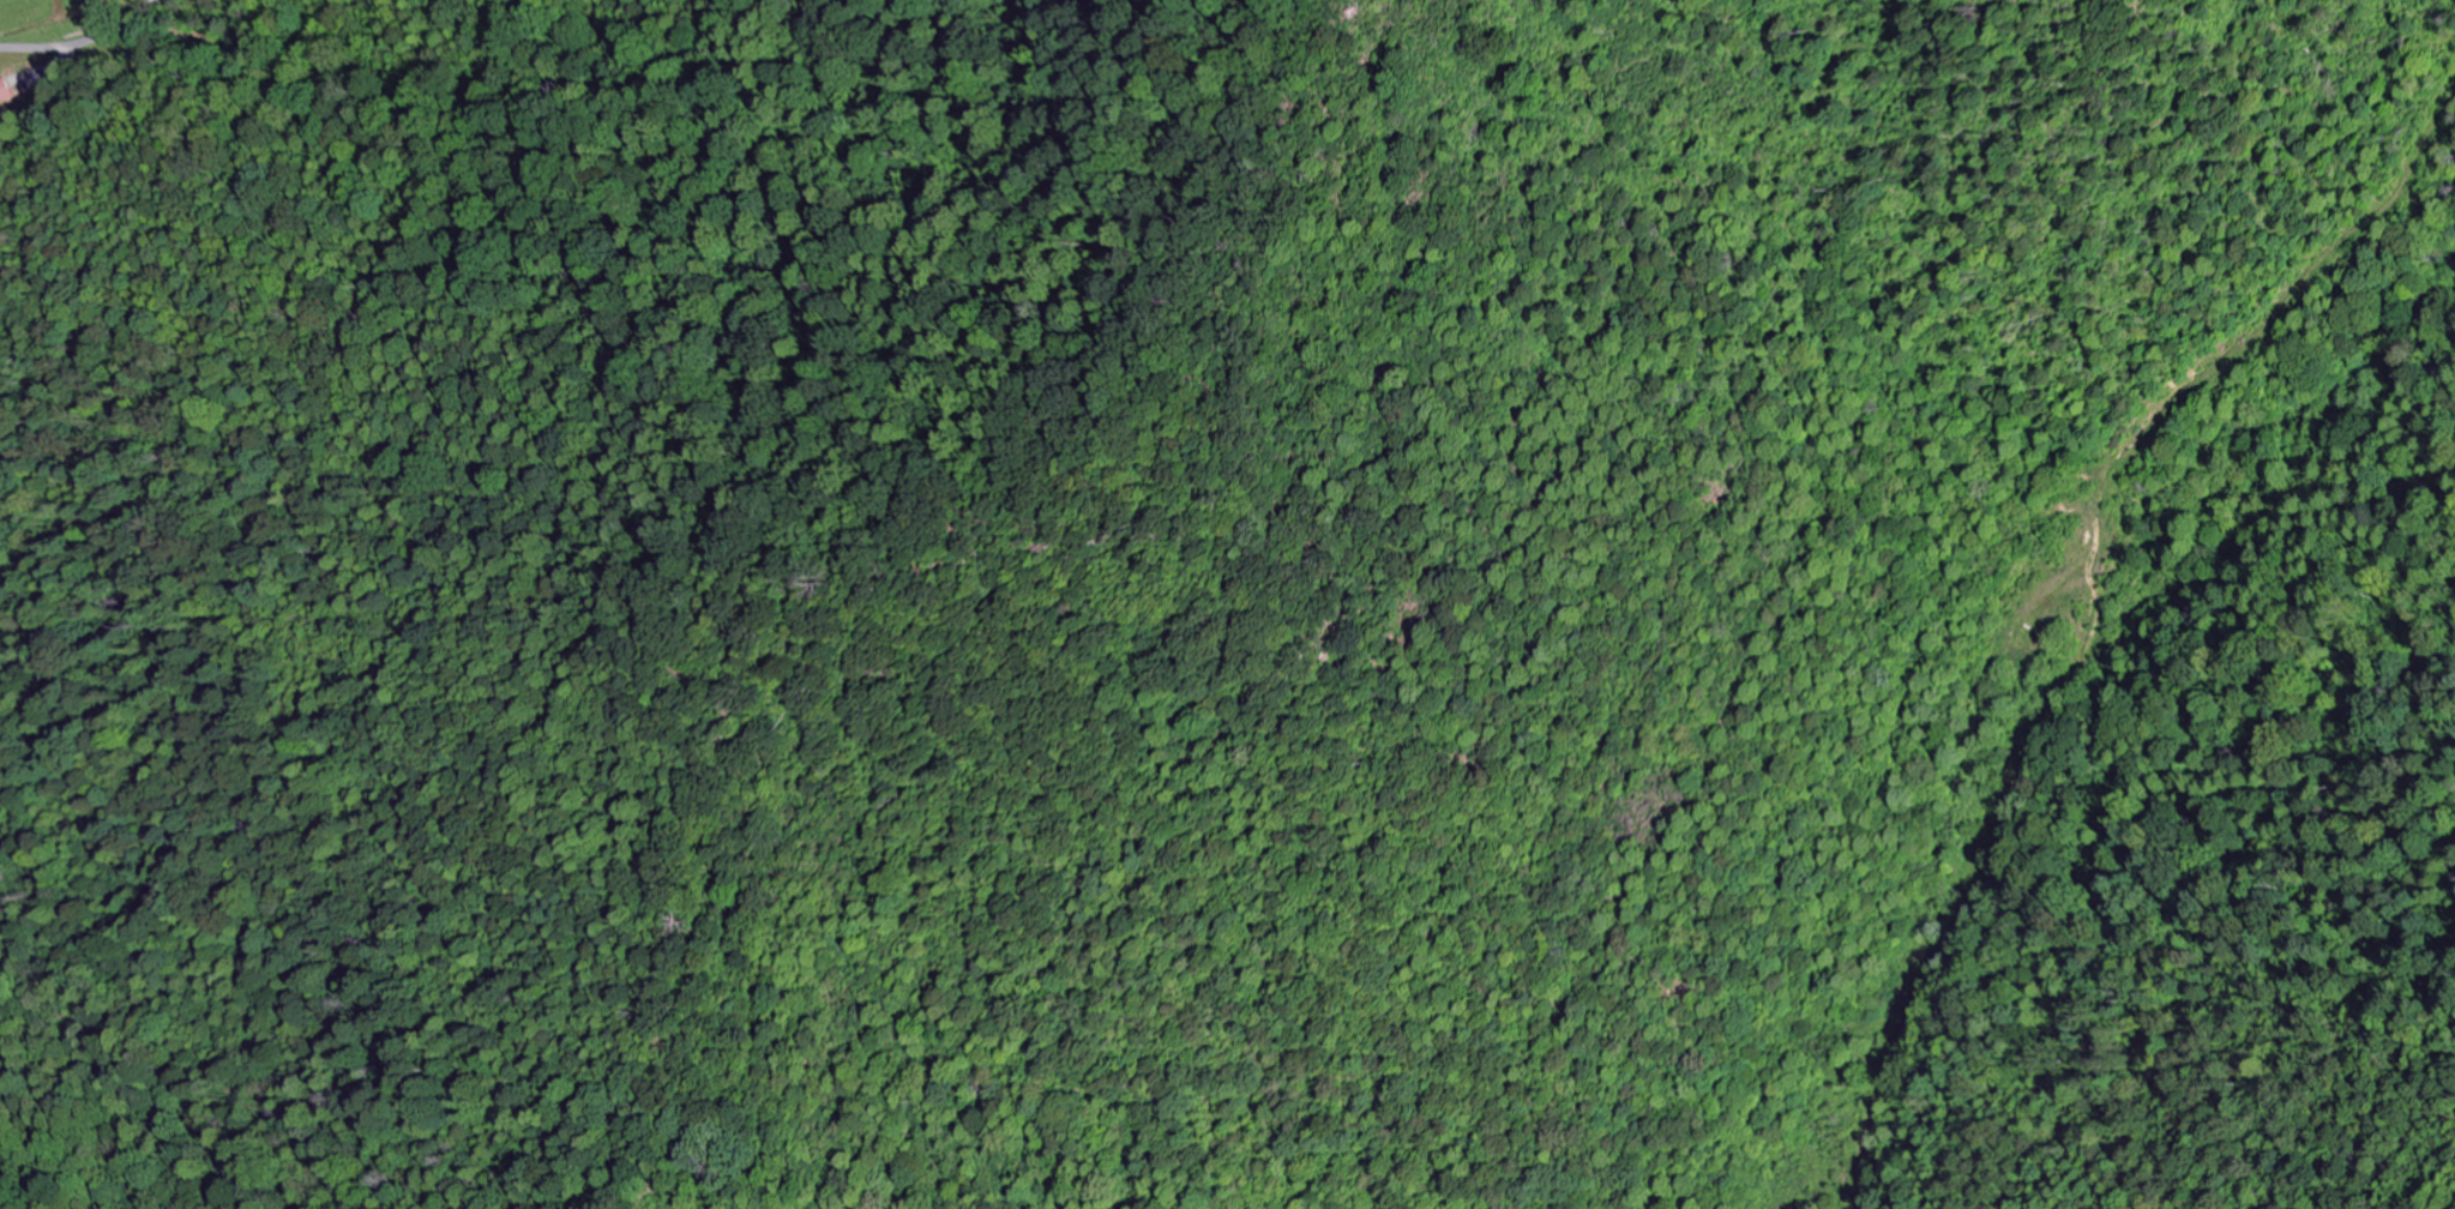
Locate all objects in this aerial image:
road: (82, 38)
building: (0, 97)

